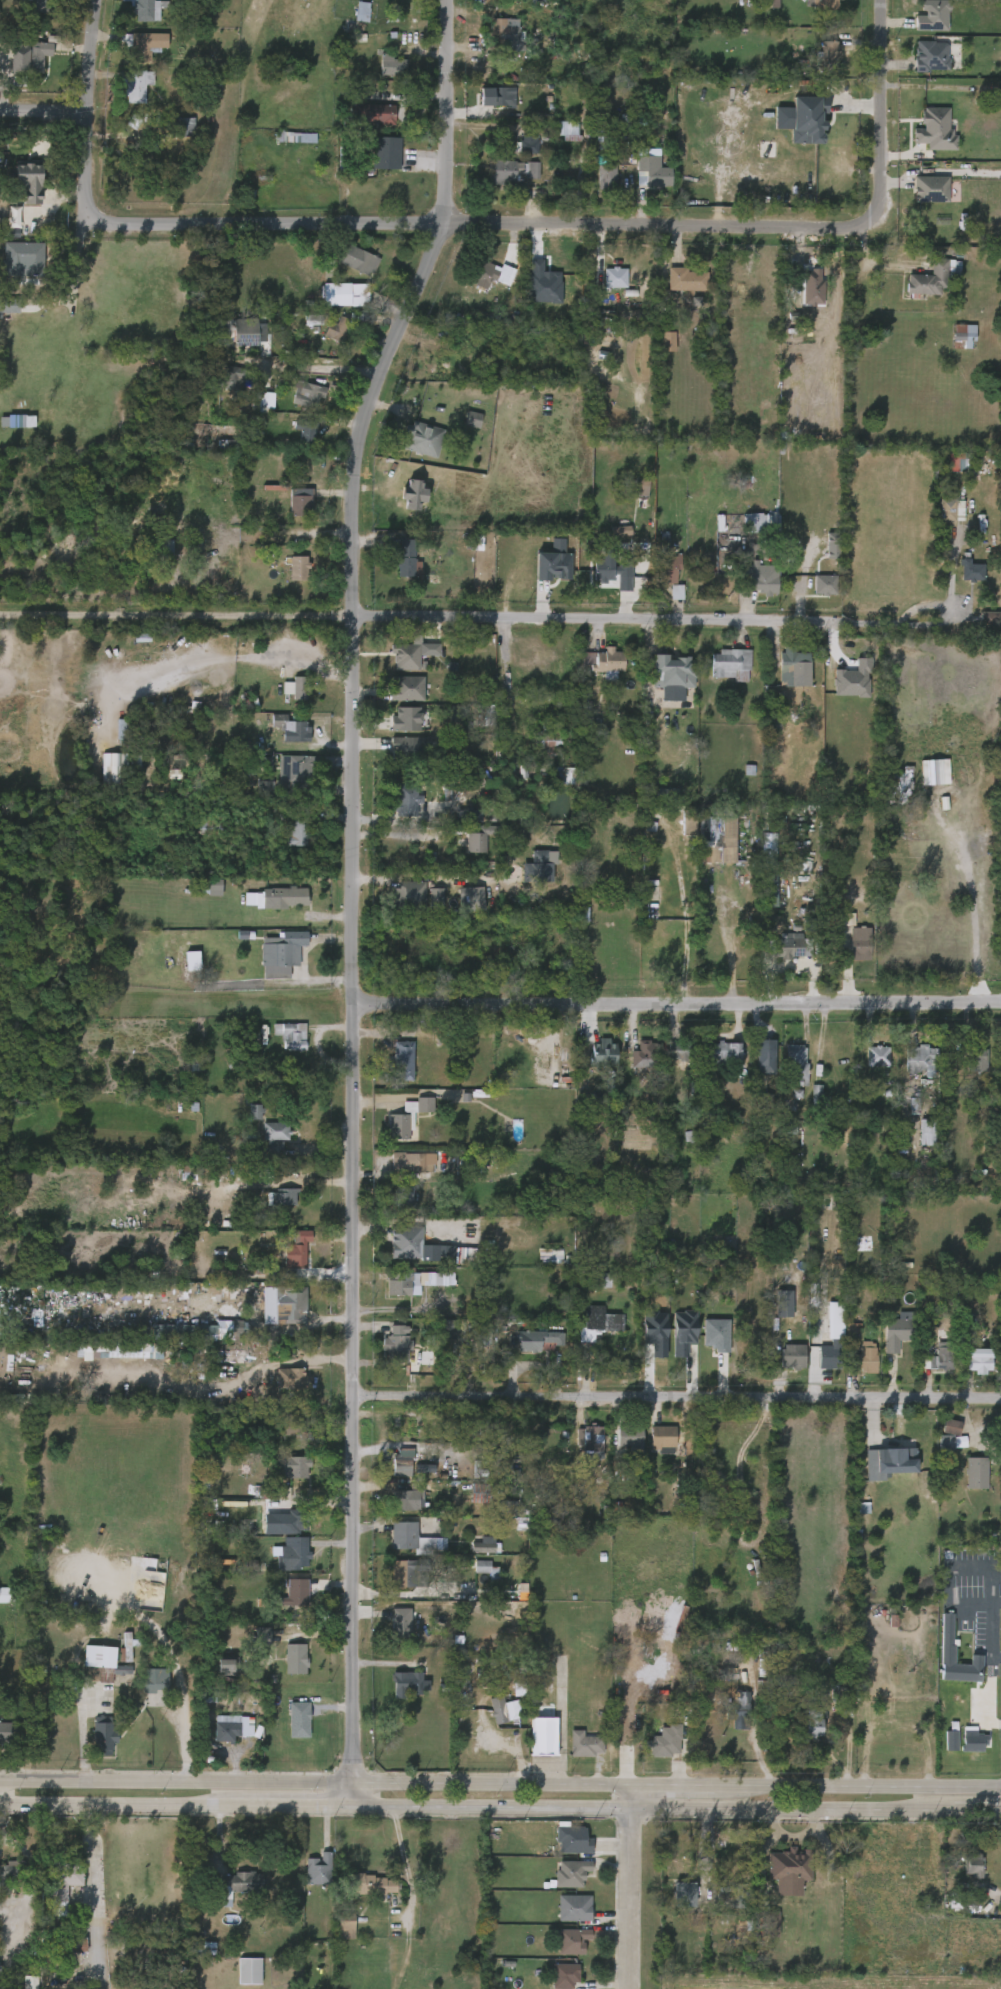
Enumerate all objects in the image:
building: (827, 4)
building: (40, 5)
building: (144, 10)
building: (810, 11)
building: (130, 16)
building: (930, 16)
building: (349, 23)
building: (920, 28)
building: (504, 31)
building: (141, 44)
building: (492, 46)
road: (402, 53)
building: (25, 56)
road: (96, 56)
building: (929, 57)
building: (391, 65)
building: (817, 67)
building: (918, 68)
building: (379, 77)
building: (134, 83)
building: (124, 97)
building: (500, 97)
road: (878, 103)
building: (484, 108)
road: (453, 112)
building: (375, 113)
road: (46, 114)
building: (364, 125)
building: (185, 127)
building: (795, 131)
building: (933, 131)
building: (174, 138)
building: (922, 142)
building: (555, 143)
building: (284, 149)
building: (386, 152)
building: (515, 156)
building: (344, 162)
building: (373, 165)
road: (93, 168)
building: (513, 171)
building: (643, 173)
building: (498, 183)
building: (593, 188)
building: (928, 190)
building: (16, 191)
building: (917, 201)
road: (493, 224)
building: (3, 228)
building: (25, 258)
building: (358, 259)
building: (999, 269)
building: (344, 271)
building: (491, 274)
building: (614, 277)
building: (678, 279)
building: (928, 279)
building: (811, 285)
building: (479, 286)
building: (602, 289)
building: (673, 291)
building: (915, 292)
building: (348, 295)
building: (799, 297)
building: (331, 306)
building: (1, 316)
building: (338, 330)
building: (243, 331)
building: (963, 336)
building: (325, 341)
building: (234, 345)
building: (951, 347)
building: (654, 353)
road: (318, 367)
building: (229, 377)
building: (218, 389)
building: (309, 394)
building: (295, 406)
building: (249, 413)
building: (459, 431)
building: (10, 432)
building: (309, 432)
building: (423, 438)
building: (293, 442)
building: (409, 450)
building: (958, 462)
building: (943, 473)
building: (640, 487)
building: (302, 501)
building: (950, 510)
building: (288, 513)
building: (934, 522)
building: (946, 522)
building: (619, 531)
building: (748, 534)
building: (607, 542)
building: (157, 549)
building: (819, 557)
building: (153, 559)
building: (409, 559)
building: (603, 566)
building: (299, 567)
building: (668, 569)
building: (395, 570)
building: (969, 571)
building: (540, 574)
road: (951, 576)
building: (285, 579)
building: (657, 579)
building: (761, 579)
building: (957, 582)
building: (600, 584)
building: (823, 585)
building: (811, 596)
building: (663, 603)
road: (175, 617)
road: (594, 617)
road: (930, 623)
building: (975, 629)
building: (407, 656)
building: (608, 660)
building: (729, 664)
building: (394, 666)
building: (793, 669)
building: (592, 671)
building: (671, 675)
building: (718, 676)
building: (781, 679)
building: (848, 683)
building: (301, 687)
building: (597, 687)
building: (409, 688)
building: (837, 694)
building: (283, 699)
building: (394, 699)
building: (410, 718)
building: (442, 726)
building: (287, 728)
building: (393, 730)
building: (589, 734)
building: (278, 740)
building: (548, 745)
building: (408, 749)
building: (536, 754)
building: (394, 759)
building: (293, 768)
building: (100, 782)
building: (283, 783)
building: (921, 783)
building: (555, 787)
building: (890, 795)
building: (409, 804)
building: (392, 813)
building: (210, 826)
building: (459, 827)
building: (296, 828)
building: (675, 835)
building: (200, 836)
building: (715, 840)
building: (477, 842)
building: (284, 843)
building: (465, 851)
building: (537, 867)
building: (524, 879)
building: (286, 896)
building: (407, 896)
building: (202, 899)
building: (396, 907)
building: (423, 908)
building: (271, 909)
building: (457, 910)
road: (959, 915)
building: (858, 943)
building: (789, 946)
building: (284, 951)
building: (845, 954)
road: (713, 956)
building: (776, 956)
road: (836, 974)
road: (354, 993)
road: (678, 1005)
building: (293, 1037)
building: (278, 1047)
building: (680, 1050)
building: (602, 1053)
building: (724, 1053)
building: (764, 1054)
building: (642, 1056)
building: (875, 1056)
building: (405, 1060)
building: (917, 1060)
building: (972, 1061)
building: (664, 1062)
building: (590, 1063)
building: (712, 1064)
building: (793, 1065)
building: (630, 1066)
building: (864, 1067)
building: (751, 1068)
building: (907, 1071)
building: (965, 1071)
building: (390, 1072)
building: (784, 1077)
building: (803, 1104)
building: (406, 1117)
building: (242, 1122)
building: (925, 1130)
building: (386, 1137)
building: (276, 1138)
building: (913, 1143)
building: (262, 1147)
building: (410, 1162)
building: (399, 1173)
building: (282, 1198)
building: (405, 1199)
building: (268, 1208)
building: (390, 1208)
building: (407, 1242)
building: (296, 1250)
building: (410, 1258)
building: (284, 1260)
building: (595, 1280)
building: (401, 1284)
building: (284, 1305)
building: (771, 1314)
building: (596, 1323)
building: (244, 1328)
building: (586, 1333)
building: (894, 1333)
building: (535, 1340)
building: (185, 1342)
building: (398, 1344)
building: (882, 1344)
building: (703, 1345)
building: (527, 1352)
building: (384, 1355)
building: (791, 1357)
building: (827, 1357)
building: (863, 1358)
building: (938, 1358)
building: (977, 1360)
building: (109, 1361)
building: (816, 1366)
building: (779, 1367)
building: (928, 1367)
building: (852, 1368)
building: (965, 1371)
building: (292, 1376)
building: (277, 1389)
road: (677, 1398)
building: (294, 1423)
building: (951, 1434)
building: (628, 1435)
building: (938, 1437)
building: (275, 1438)
building: (591, 1438)
building: (662, 1438)
building: (650, 1450)
building: (616, 1451)
building: (580, 1452)
building: (939, 1452)
building: (888, 1461)
building: (405, 1462)
building: (392, 1465)
building: (292, 1466)
building: (976, 1472)
building: (875, 1473)
building: (278, 1477)
building: (389, 1481)
building: (963, 1483)
building: (270, 1492)
building: (482, 1492)
building: (411, 1496)
building: (506, 1508)
building: (394, 1510)
building: (288, 1520)
building: (282, 1532)
building: (410, 1536)
building: (401, 1549)
building: (297, 1551)
building: (470, 1556)
building: (281, 1564)
building: (488, 1569)
building: (407, 1572)
building: (473, 1579)
building: (389, 1584)
building: (298, 1591)
building: (7, 1592)
building: (284, 1602)
building: (0, 1605)
building: (403, 1622)
building: (946, 1632)
building: (388, 1633)
building: (249, 1644)
building: (934, 1644)
building: (127, 1648)
building: (115, 1657)
building: (297, 1658)
building: (226, 1665)
building: (86, 1667)
building: (282, 1669)
building: (104, 1672)
building: (213, 1675)
building: (155, 1680)
building: (408, 1683)
building: (89, 1684)
building: (142, 1690)
building: (394, 1694)
building: (505, 1710)
building: (738, 1716)
building: (300, 1717)
building: (491, 1720)
building: (727, 1721)
building: (812, 1722)
building: (286, 1730)
building: (227, 1732)
building: (11, 1733)
building: (542, 1734)
building: (800, 1734)
building: (104, 1736)
building: (665, 1740)
building: (950, 1740)
building: (973, 1740)
building: (585, 1743)
building: (90, 1746)
building: (529, 1746)
building: (938, 1751)
building: (959, 1752)
building: (572, 1755)
road: (178, 1782)
road: (678, 1786)
road: (357, 1795)
road: (178, 1806)
road: (678, 1809)
building: (726, 1838)
building: (574, 1840)
road: (91, 1850)
building: (559, 1850)
building: (673, 1860)
building: (973, 1864)
building: (792, 1866)
building: (317, 1868)
building: (573, 1873)
building: (9, 1874)
building: (962, 1876)
building: (306, 1880)
building: (775, 1881)
building: (558, 1883)
building: (237, 1884)
building: (369, 1884)
building: (64, 1885)
road: (627, 1887)
building: (683, 1893)
building: (361, 1895)
building: (743, 1896)
building: (51, 1897)
building: (670, 1905)
building: (575, 1908)
building: (561, 1918)
building: (345, 1924)
building: (770, 1924)
building: (574, 1942)
building: (559, 1951)
building: (65, 1955)
building: (251, 1972)
building: (566, 1976)
building: (236, 1978)
building: (551, 1981)
building: (17, 1987)

